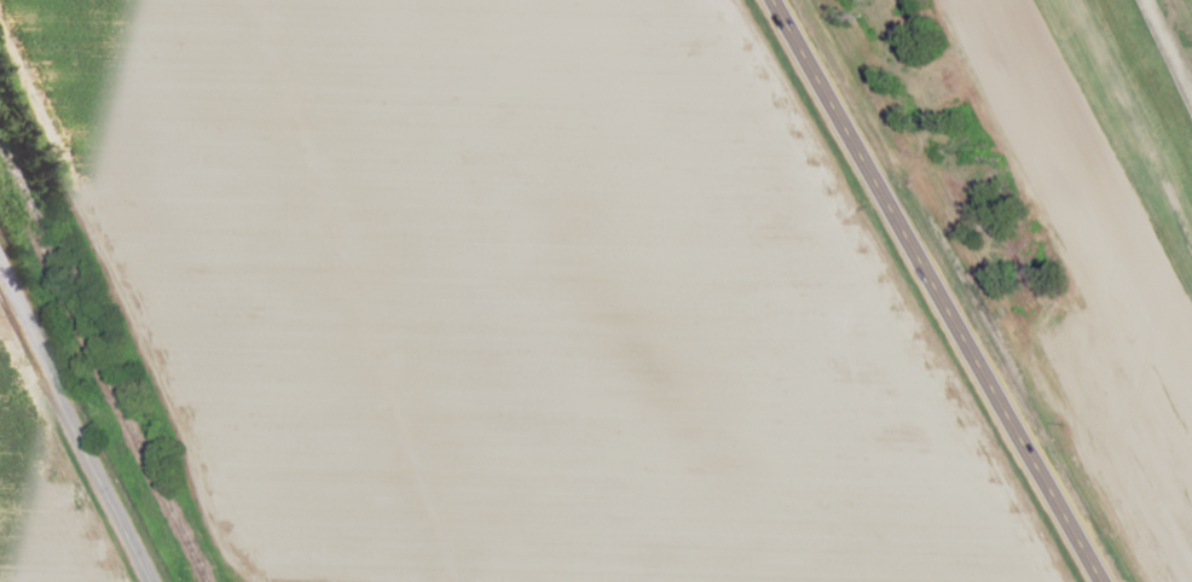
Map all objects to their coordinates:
airport runway: (1169, 46)
road: (936, 291)
railway: (103, 372)
road: (73, 432)

